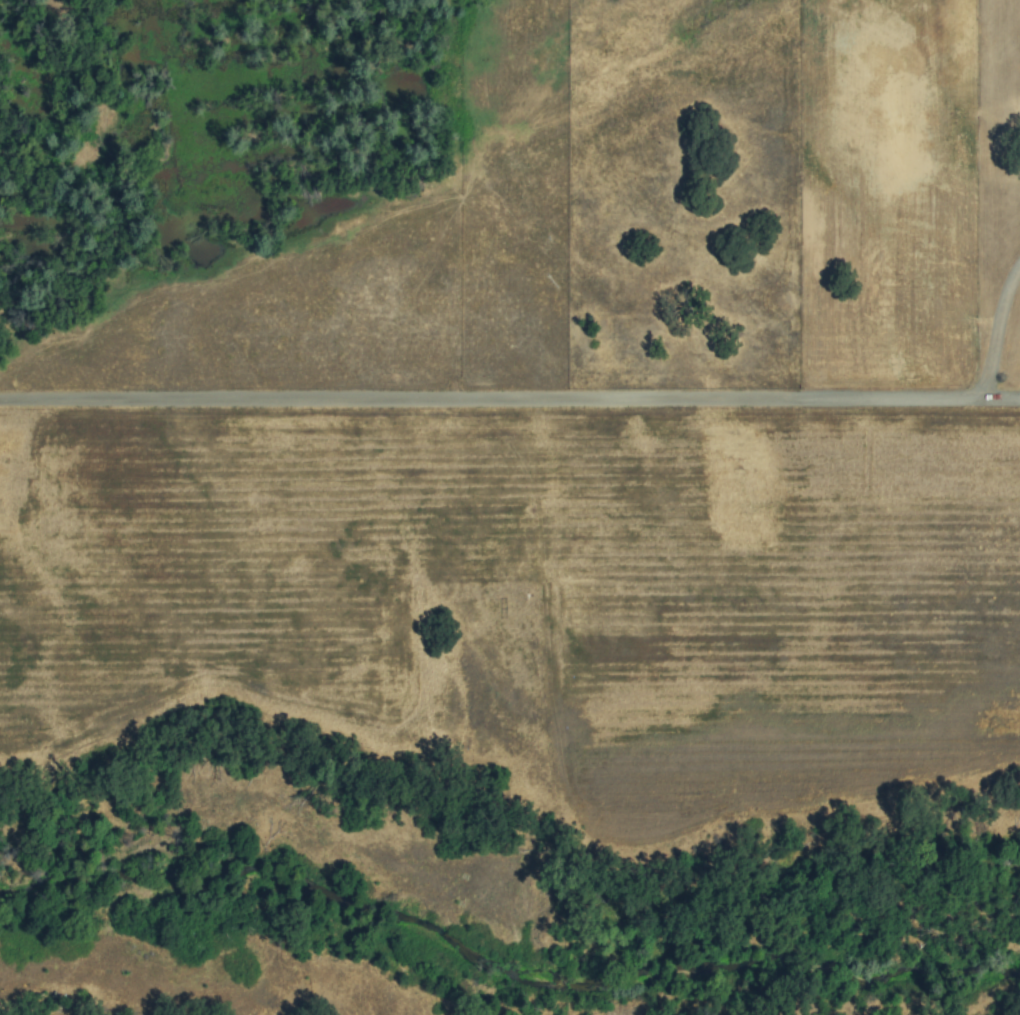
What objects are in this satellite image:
road: (1000, 330)
road: (510, 398)

